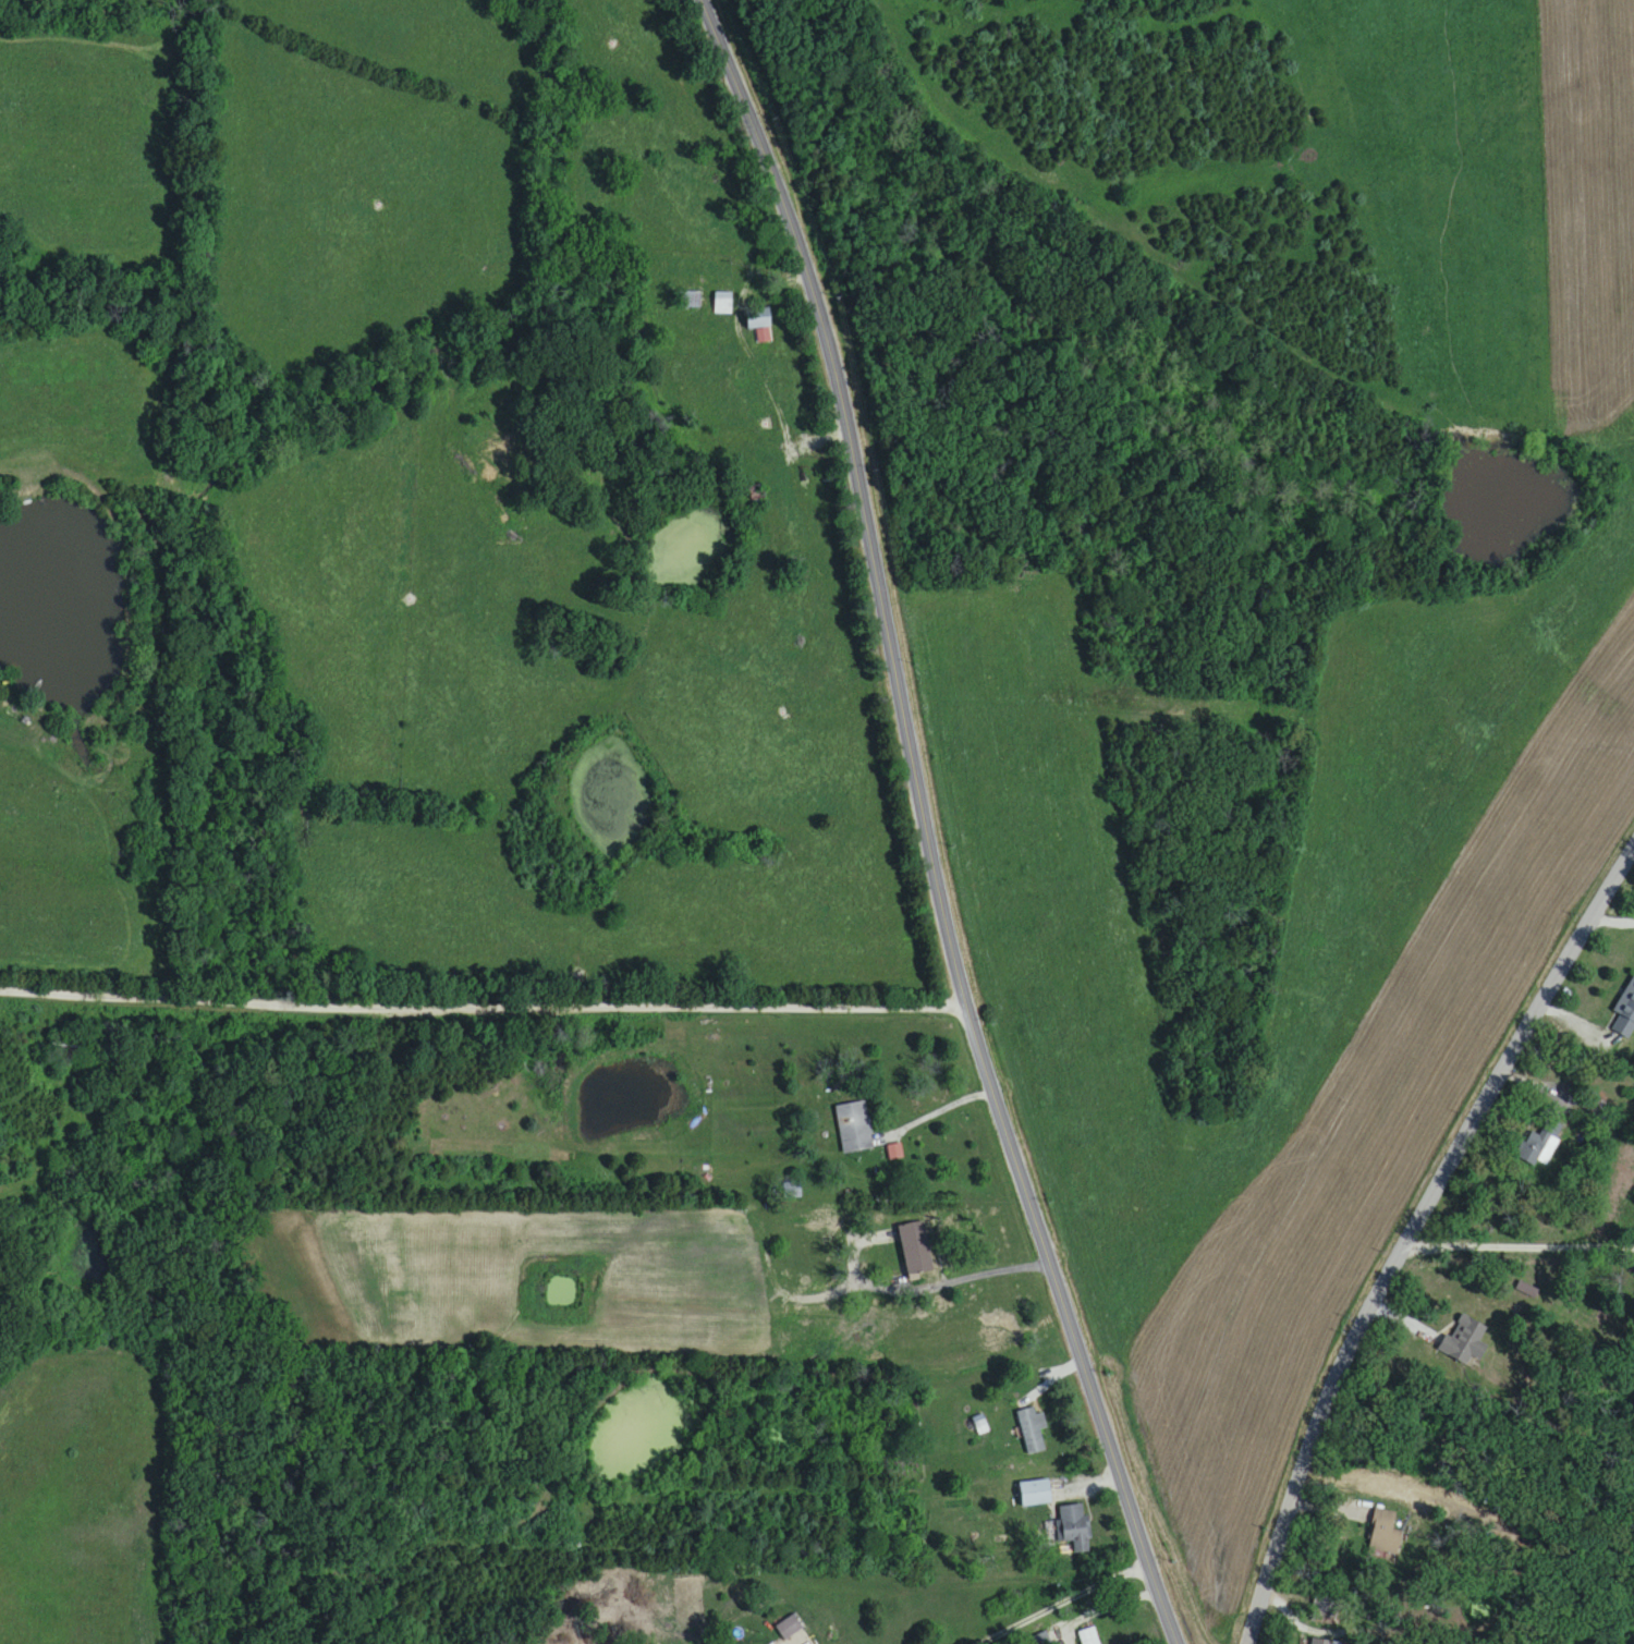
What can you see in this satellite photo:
road: (1358, 204)
building: (690, 300)
building: (723, 304)
building: (757, 320)
road: (741, 344)
building: (757, 495)
road: (925, 825)
road: (1611, 922)
road: (484, 1006)
building: (1625, 1015)
road: (922, 1120)
building: (854, 1129)
building: (793, 1192)
building: (728, 1226)
road: (1411, 1233)
road: (1517, 1247)
building: (914, 1250)
road: (881, 1284)
building: (1464, 1342)
building: (1033, 1429)
road: (861, 1483)
building: (1035, 1494)
building: (1071, 1529)
building: (1383, 1533)
road: (1064, 1603)
building: (789, 1629)
building: (1089, 1636)

